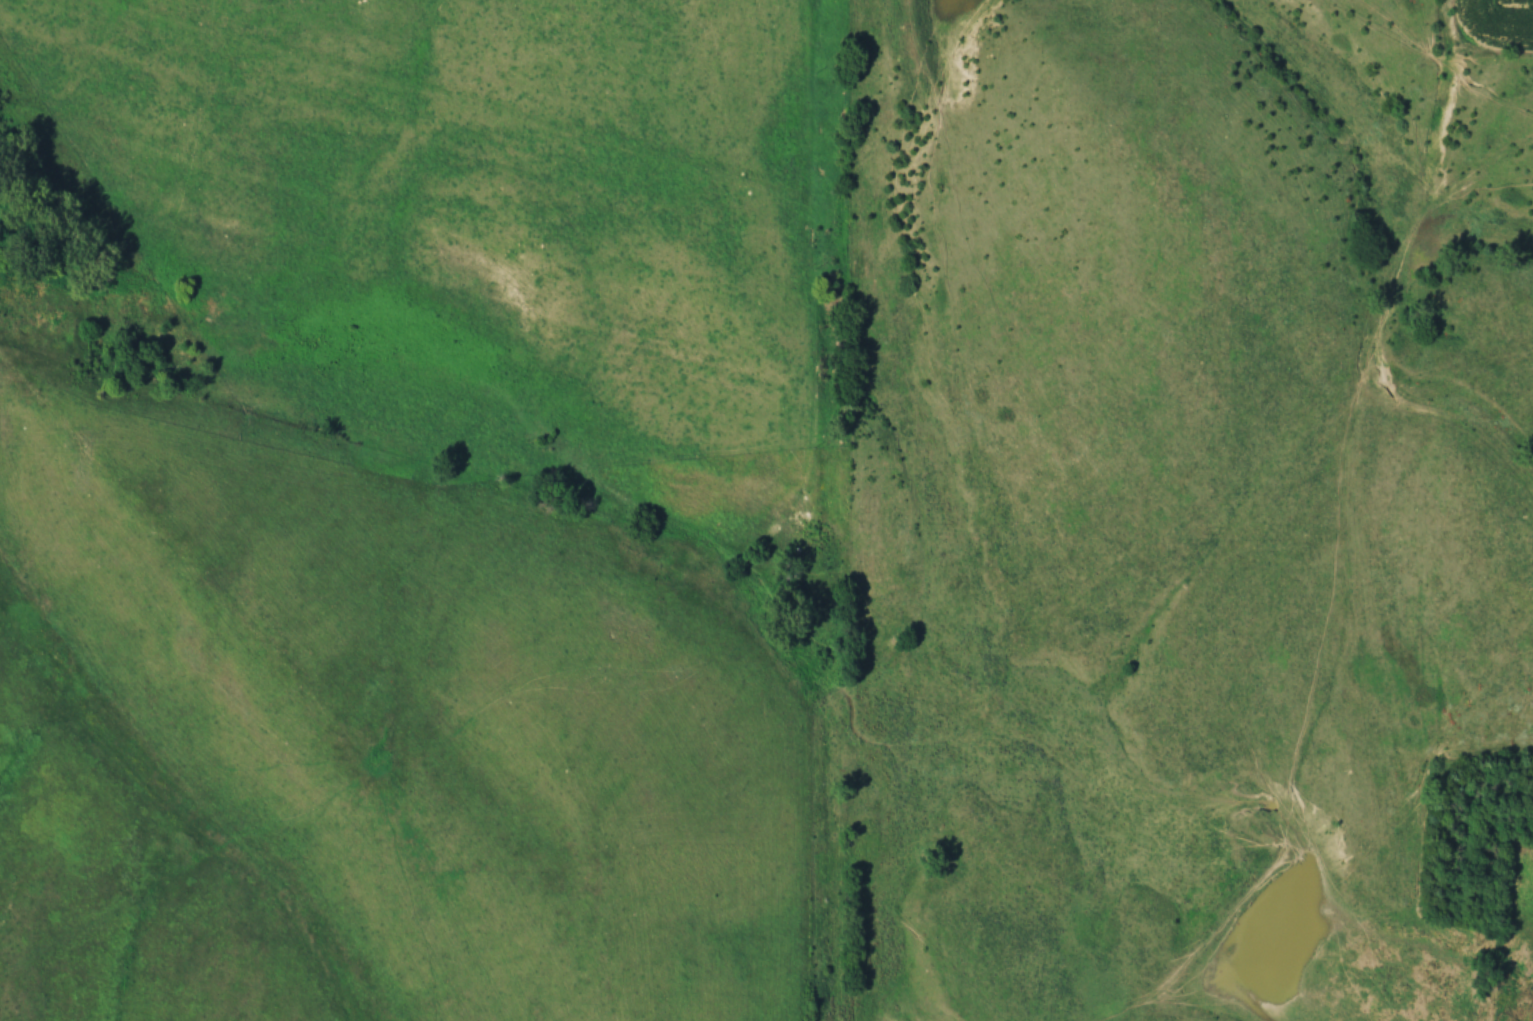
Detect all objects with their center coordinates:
crop: (1498, 22)

